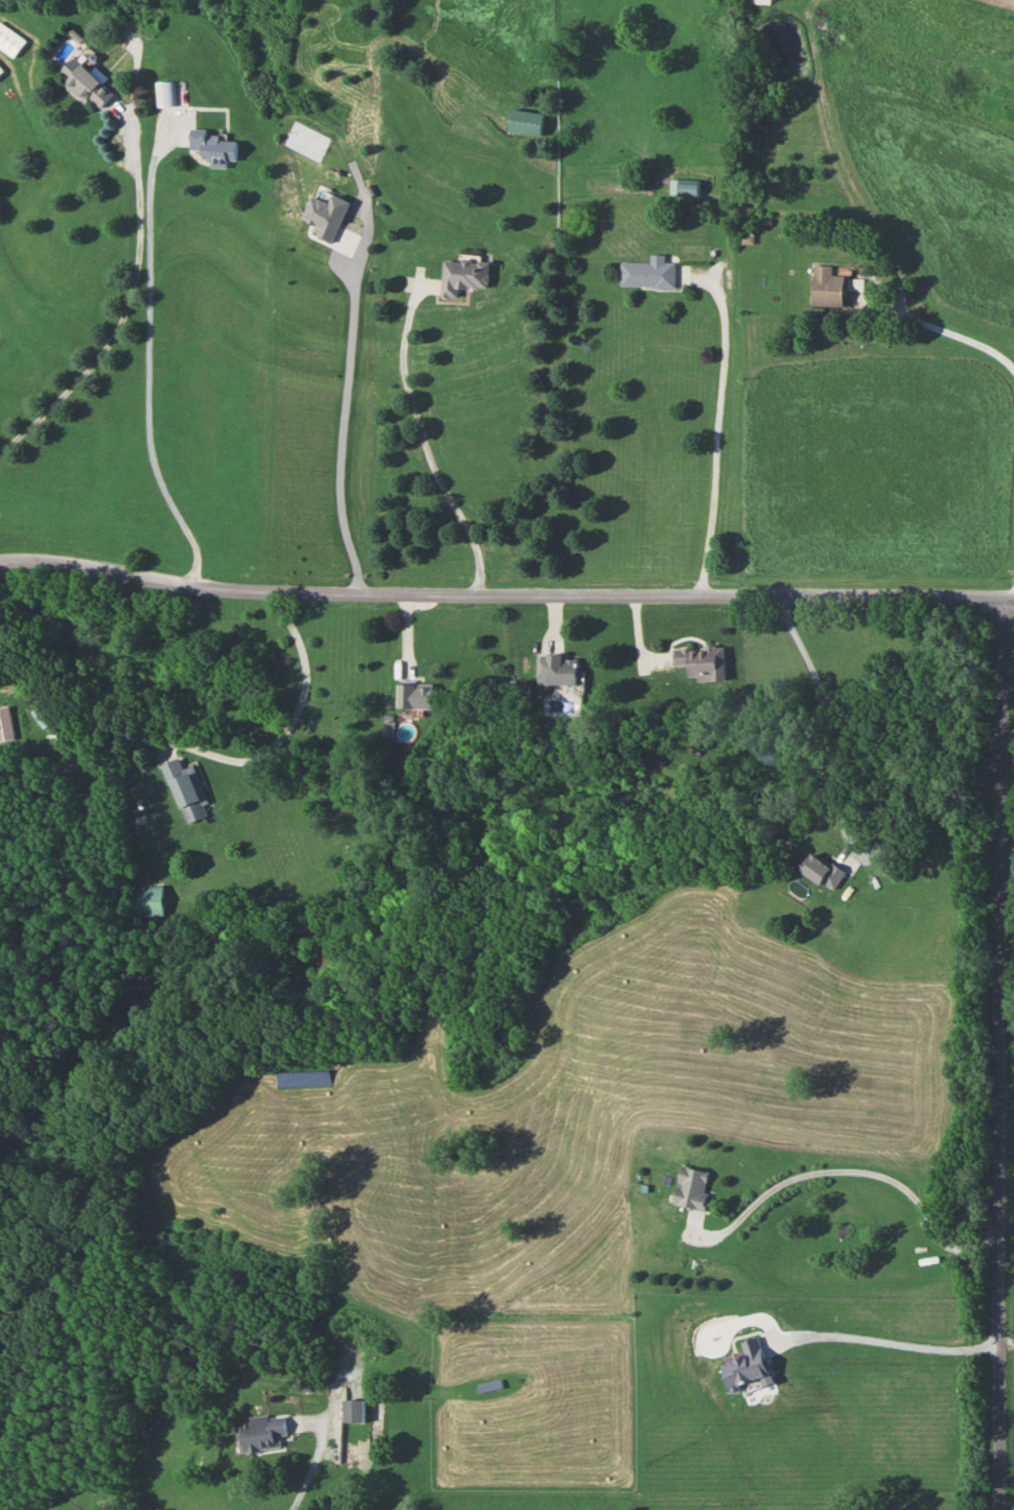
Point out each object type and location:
building: (760, 1)
building: (9, 40)
building: (0, 70)
building: (83, 81)
building: (760, 88)
building: (164, 92)
building: (212, 145)
building: (684, 187)
road: (872, 214)
building: (648, 272)
building: (462, 276)
building: (830, 286)
road: (124, 324)
road: (152, 365)
road: (339, 435)
road: (718, 438)
road: (429, 443)
road: (505, 594)
building: (700, 660)
building: (556, 667)
building: (414, 694)
road: (831, 714)
road: (293, 721)
building: (5, 723)
building: (185, 788)
building: (822, 870)
building: (144, 899)
road: (1000, 1053)
road: (849, 1166)
building: (691, 1186)
road: (885, 1337)
road: (1007, 1349)
building: (746, 1364)
building: (353, 1409)
building: (260, 1433)
road: (324, 1441)

